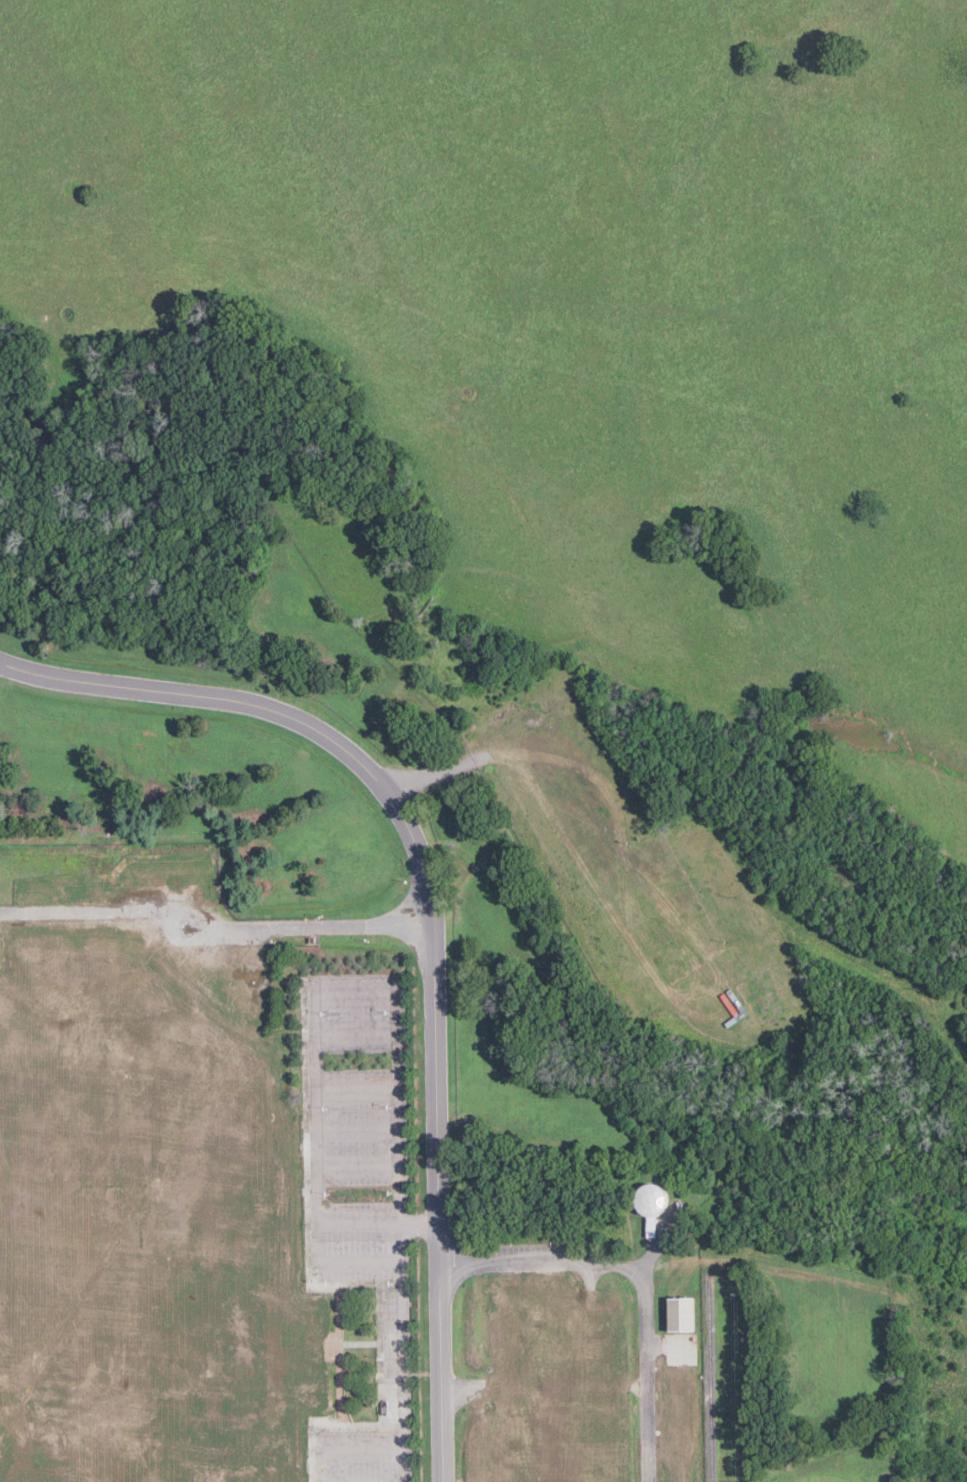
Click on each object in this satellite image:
road: (428, 921)
road: (212, 926)
building: (396, 1143)
building: (651, 1204)
building: (681, 1314)
railway: (711, 1376)

